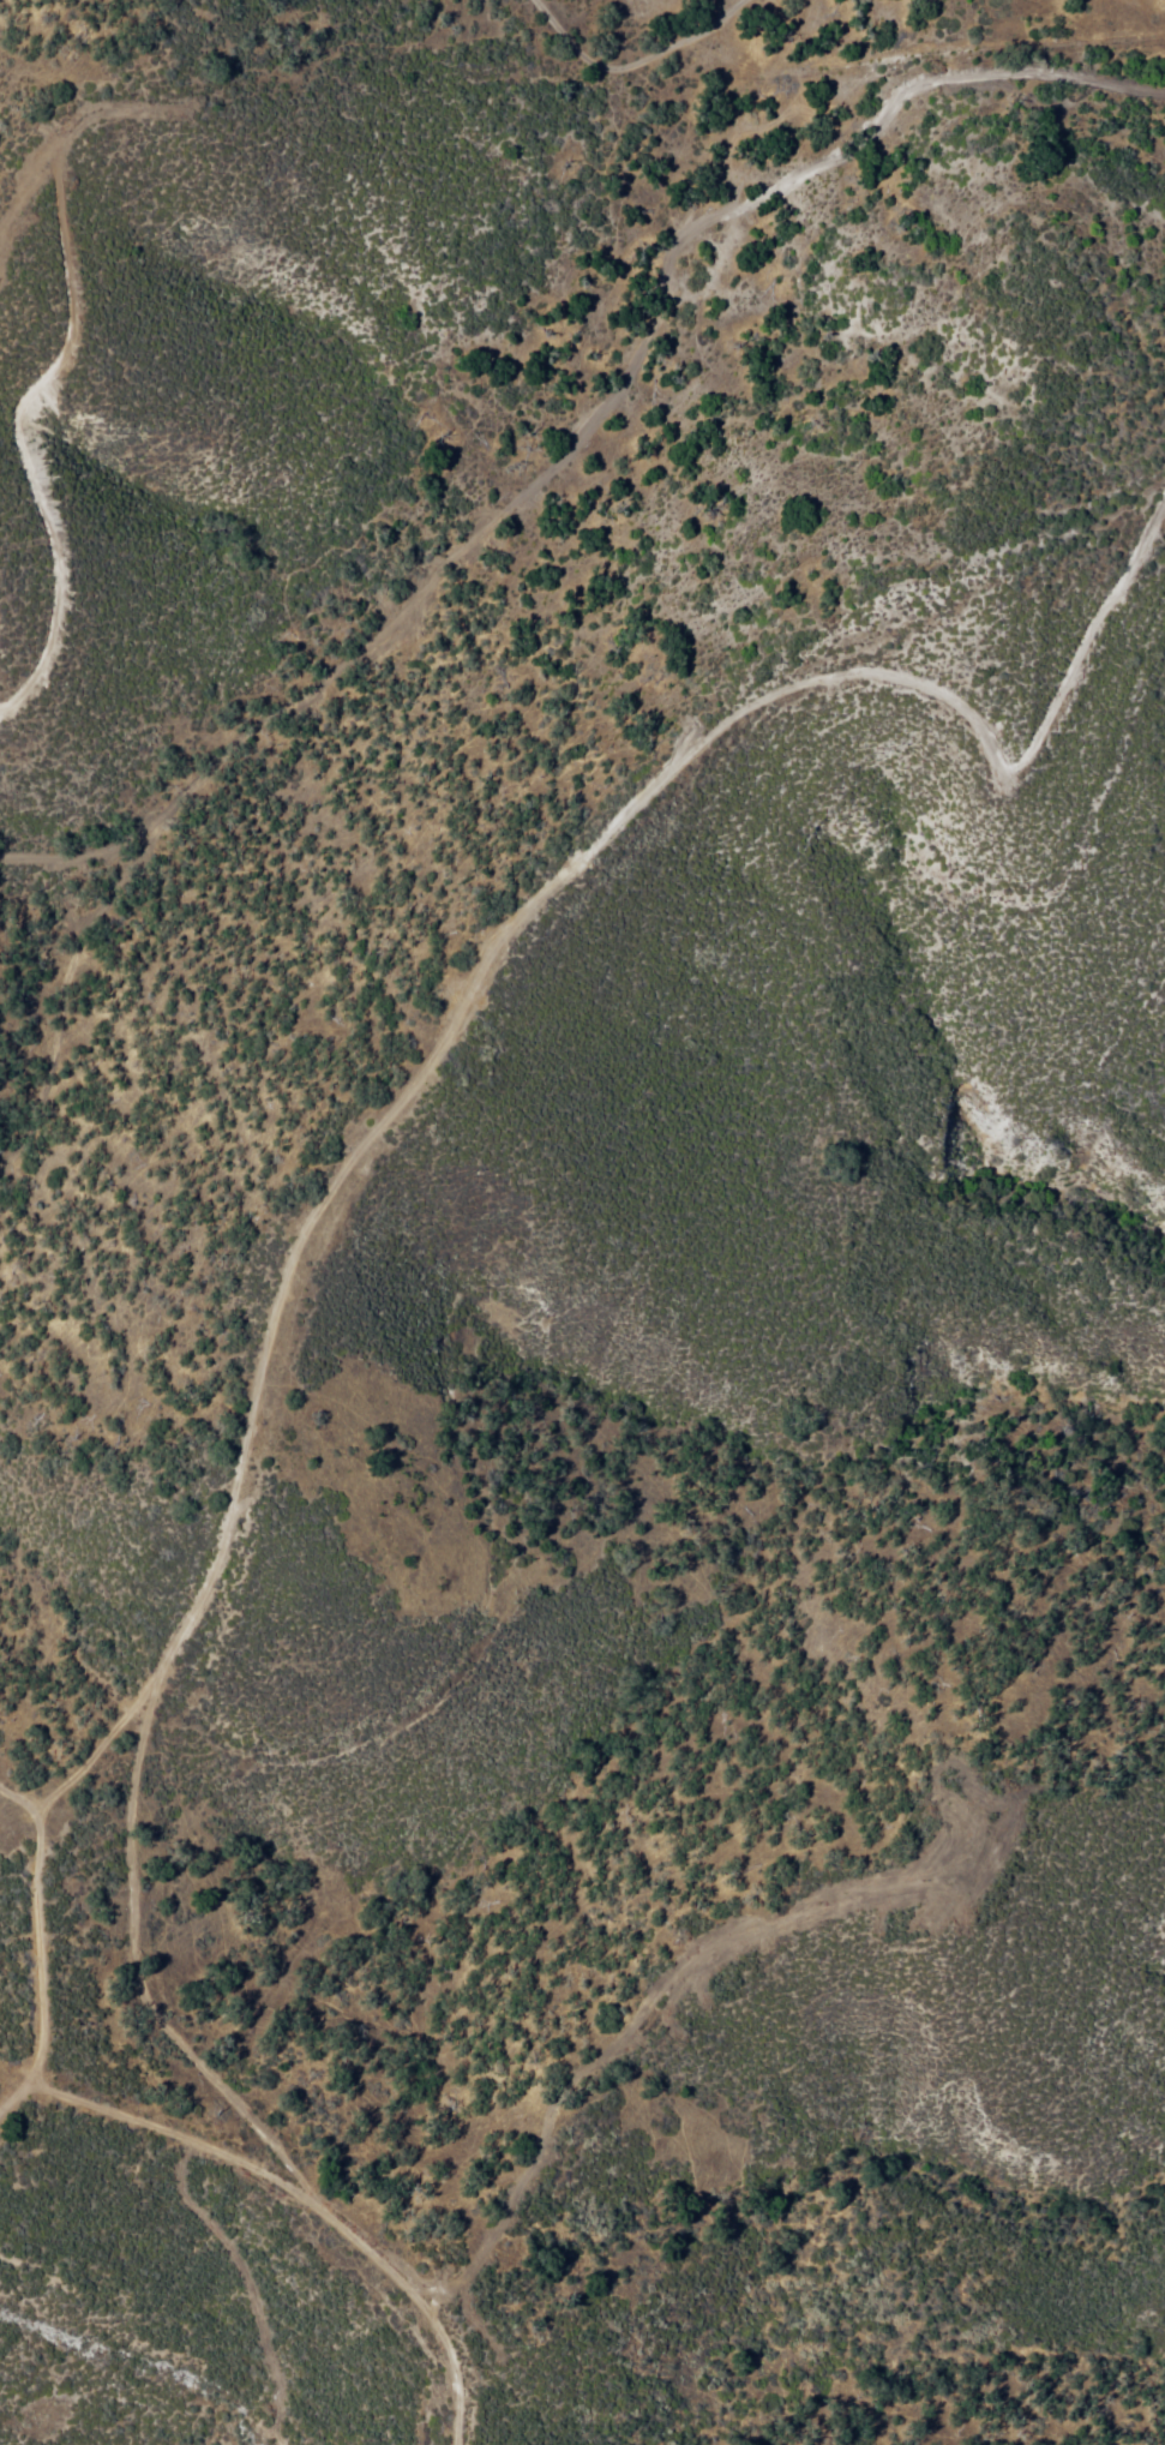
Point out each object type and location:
road: (633, 67)
road: (491, 521)
road: (296, 2188)

